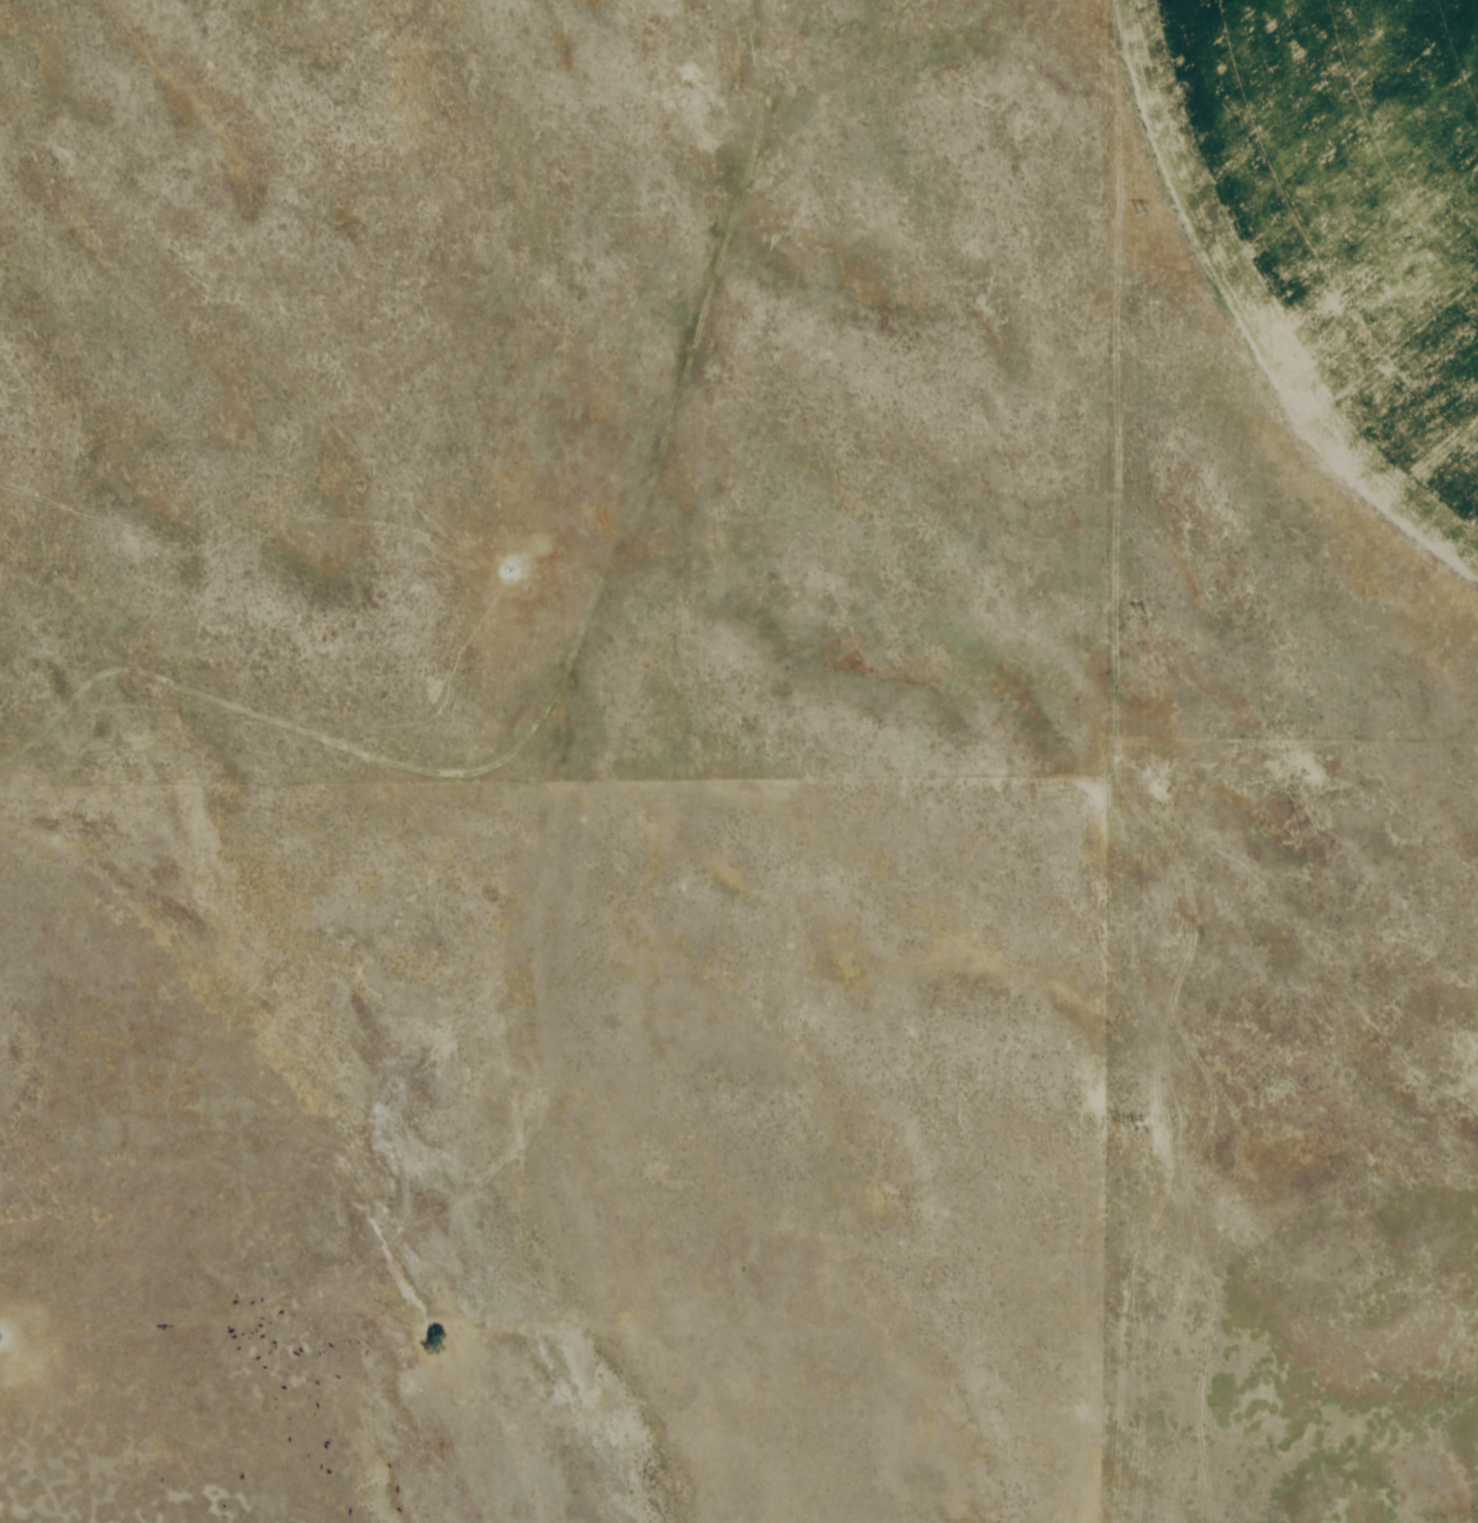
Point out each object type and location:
power tower: (1138, 213)
crop: (1335, 222)
power tower: (1138, 616)
road: (570, 652)
power tower: (1139, 1130)

